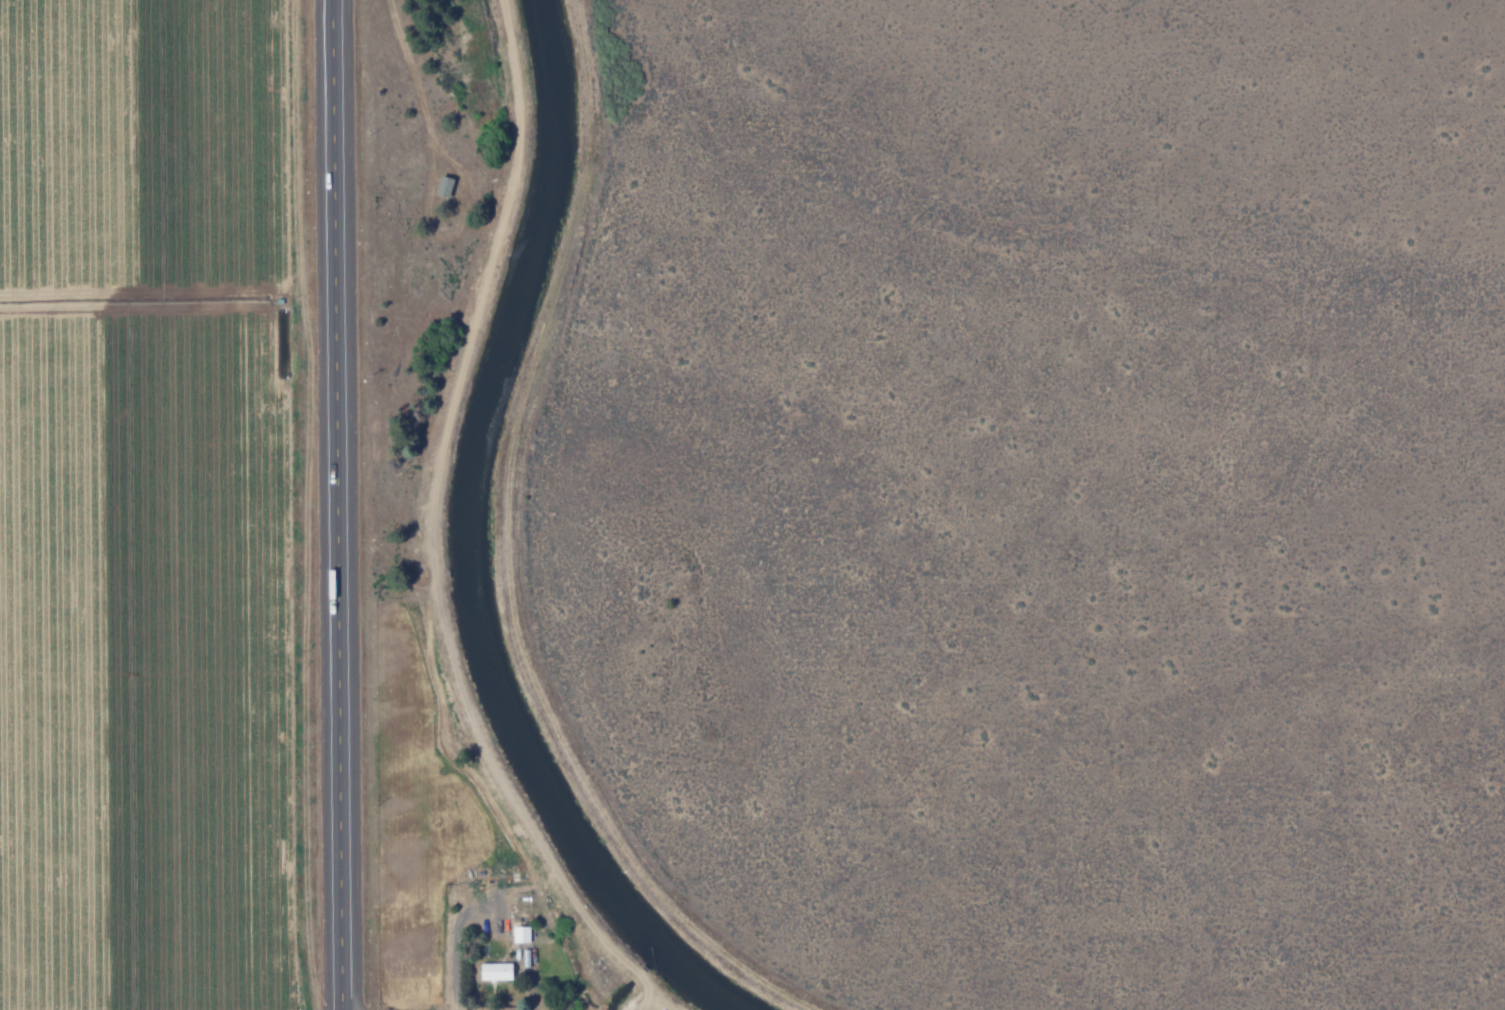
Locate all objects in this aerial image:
building: (443, 186)
road: (340, 505)
crop: (135, 507)
crop: (494, 543)
building: (518, 934)
building: (493, 971)

